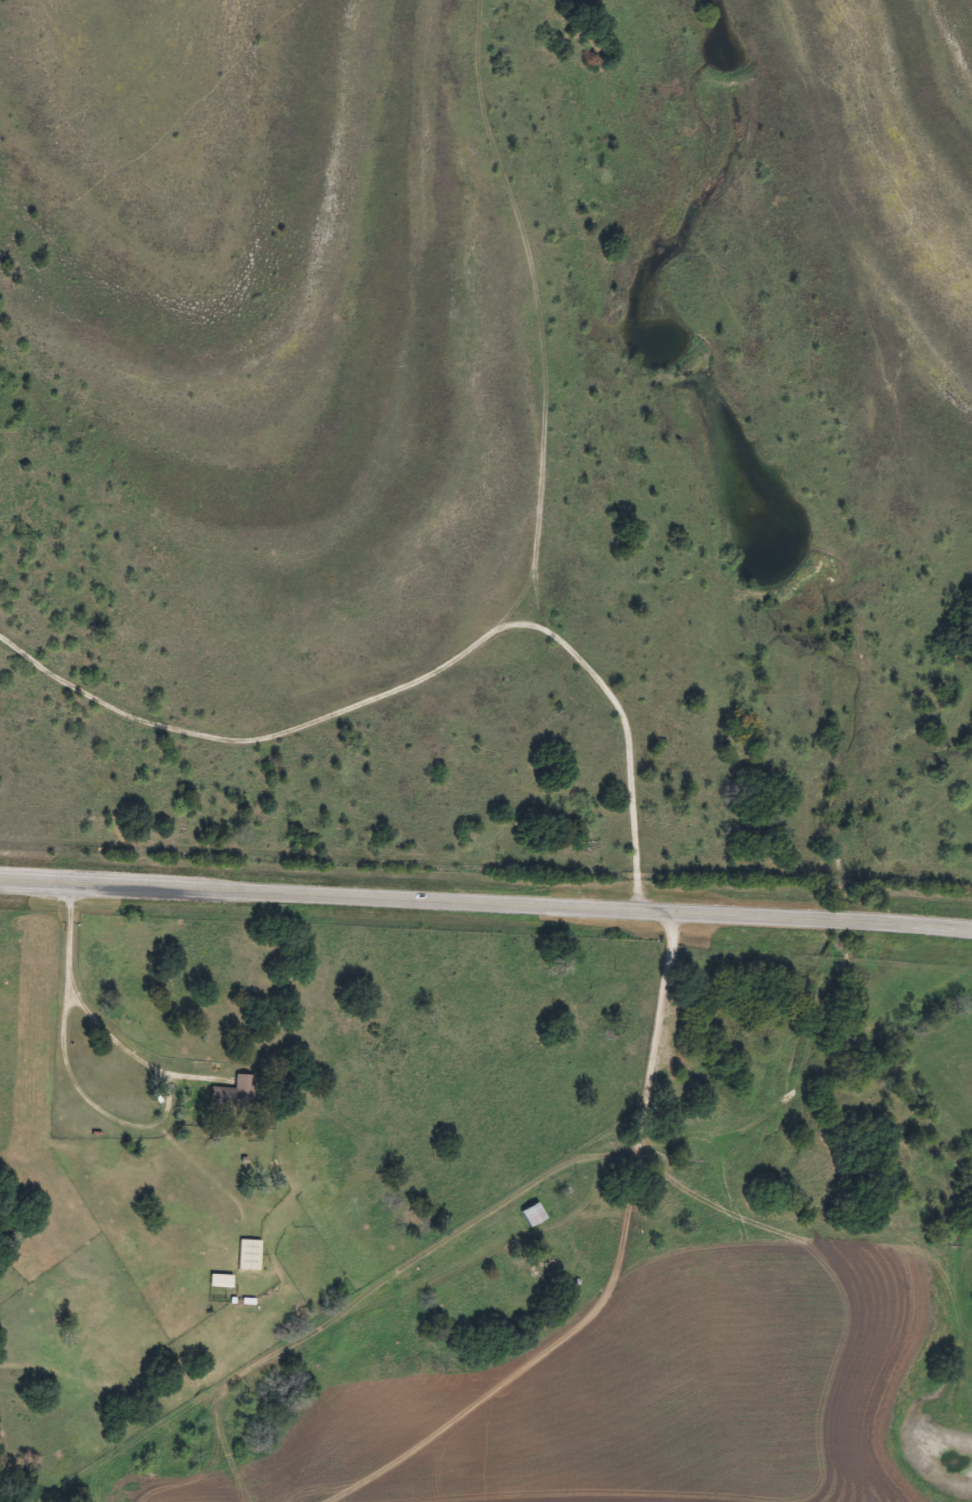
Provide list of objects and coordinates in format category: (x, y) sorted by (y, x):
road: (486, 904)
road: (96, 1015)
building: (234, 1094)
road: (578, 1168)
building: (533, 1215)
building: (249, 1255)
building: (221, 1281)

